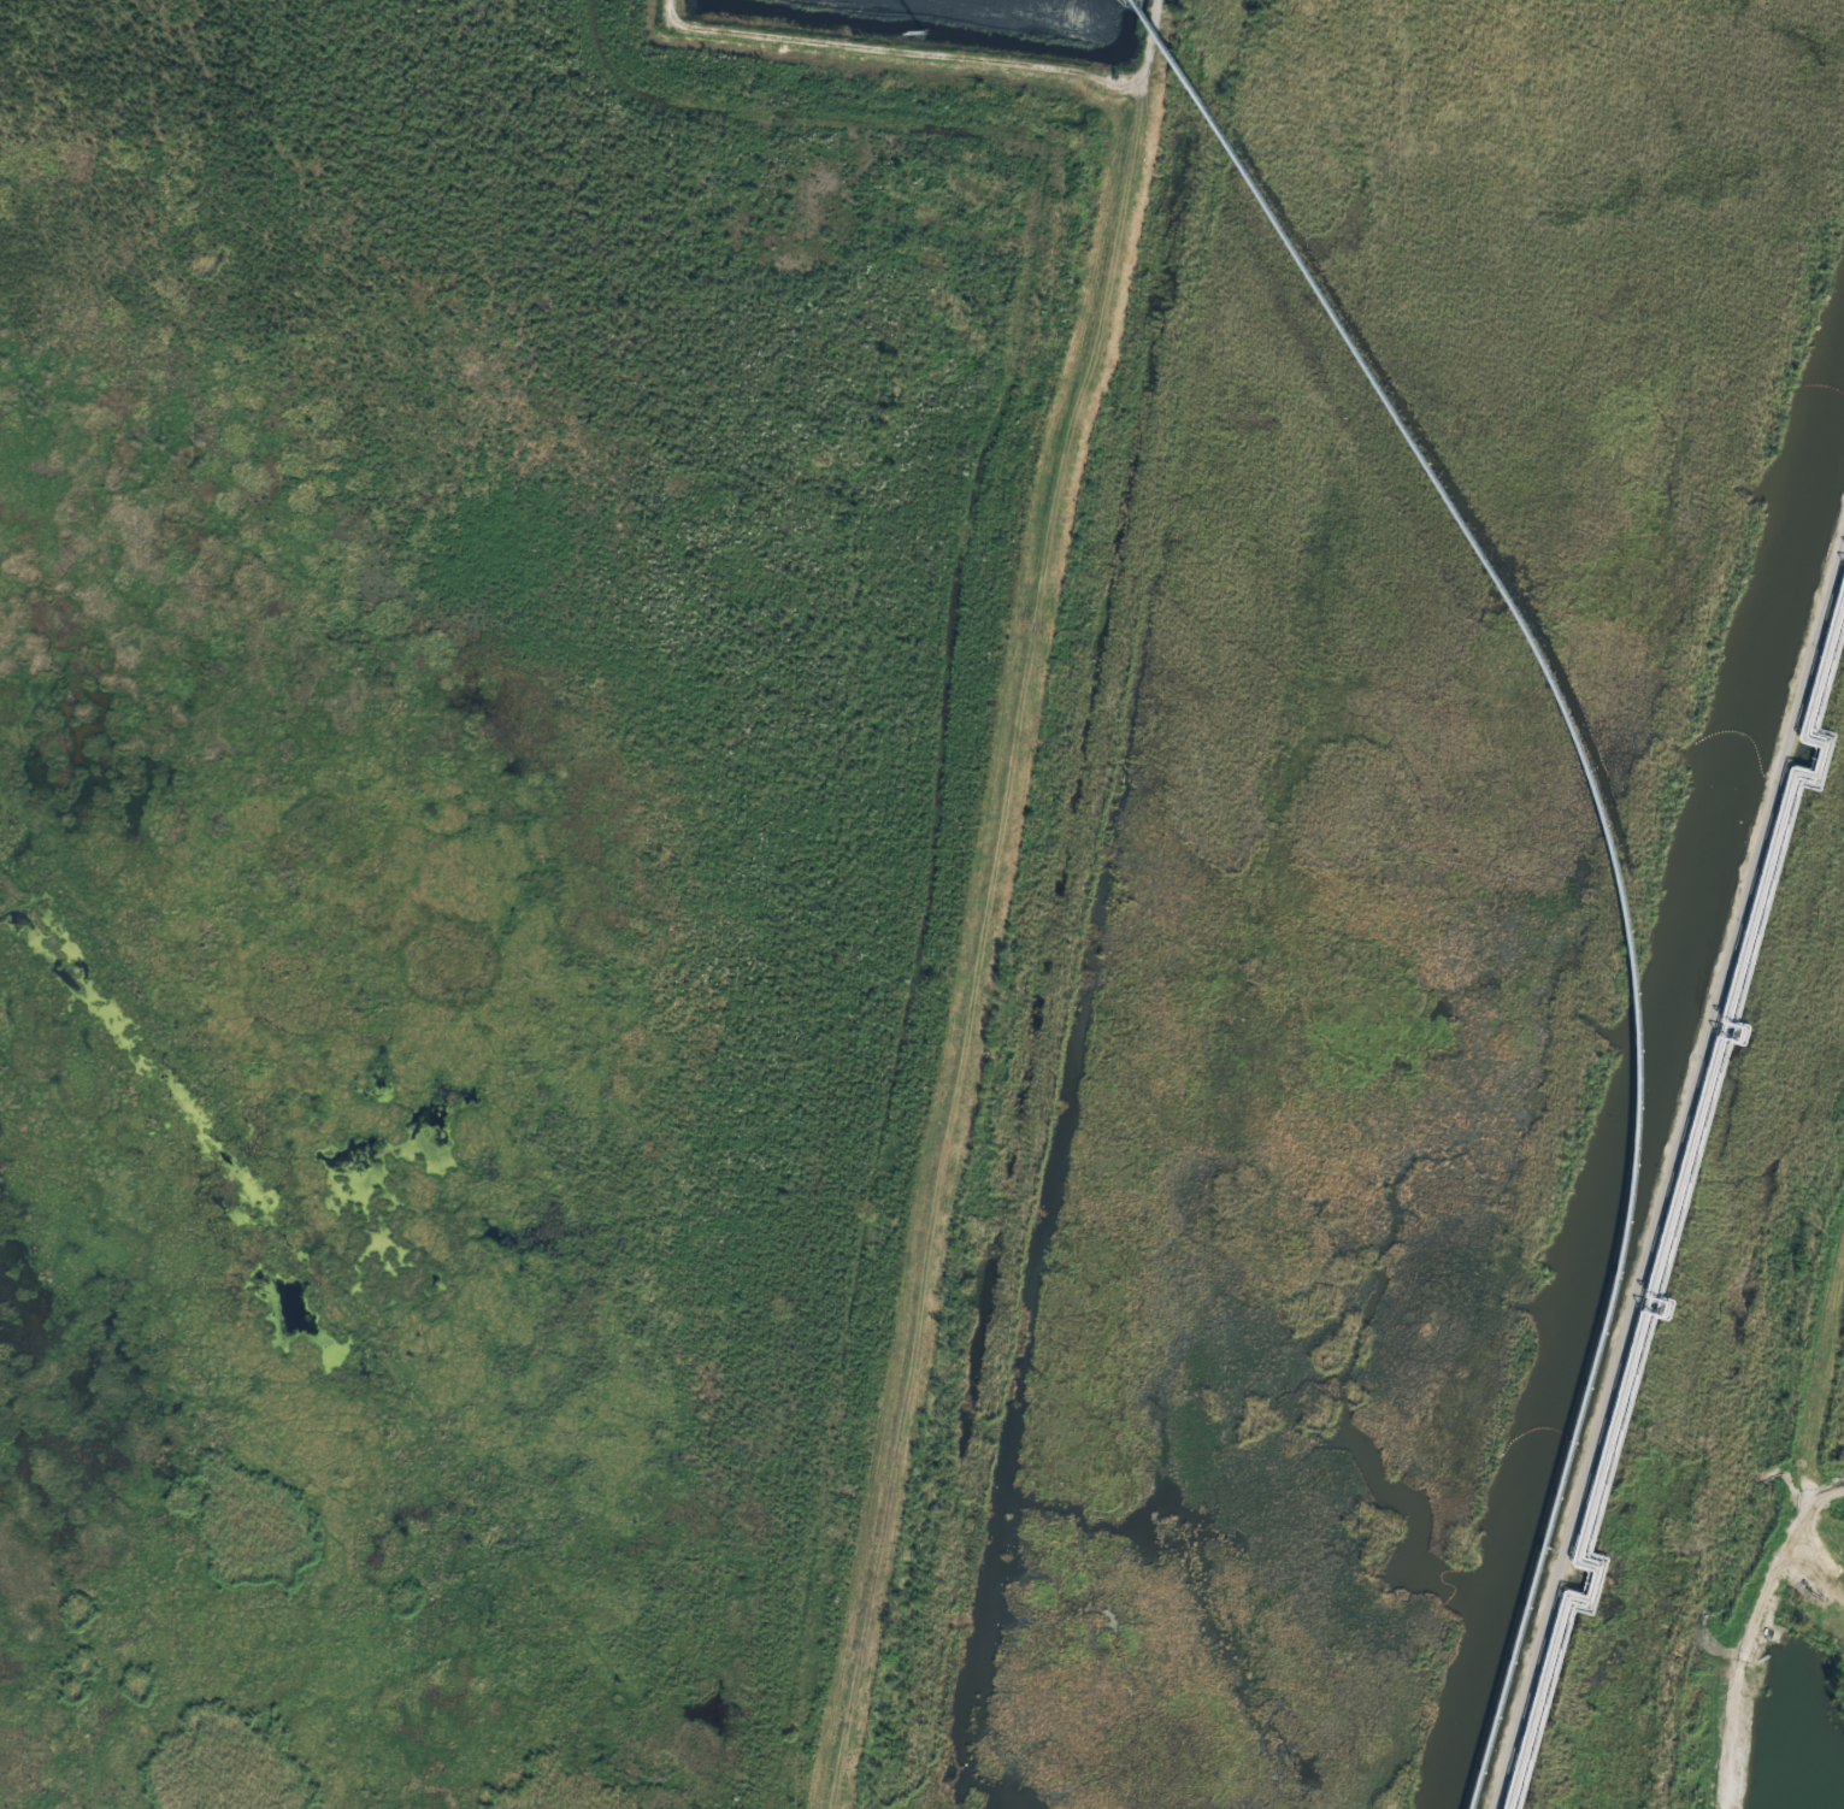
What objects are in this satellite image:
road: (1674, 1201)

